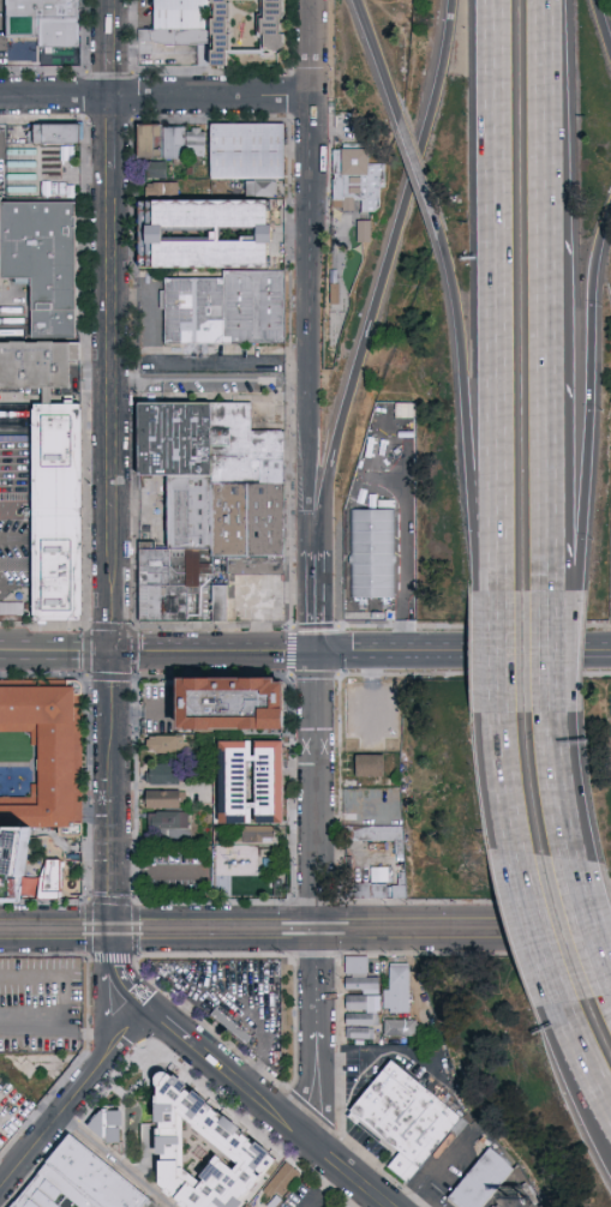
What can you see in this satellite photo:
building: (182, 14)
road: (605, 18)
building: (47, 22)
building: (247, 30)
building: (181, 41)
road: (377, 59)
road: (154, 96)
road: (544, 119)
building: (56, 134)
building: (170, 142)
building: (246, 150)
road: (307, 166)
road: (417, 173)
building: (363, 179)
building: (214, 227)
building: (363, 233)
road: (371, 253)
building: (43, 260)
road: (486, 295)
building: (227, 310)
road: (112, 326)
building: (35, 366)
road: (579, 397)
road: (463, 408)
road: (541, 415)
road: (311, 438)
building: (209, 505)
building: (56, 512)
road: (384, 514)
road: (313, 600)
building: (11, 612)
road: (56, 653)
road: (491, 653)
road: (546, 653)
traffic signals: (114, 655)
road: (215, 655)
traffic signals: (316, 655)
road: (399, 655)
road: (559, 657)
road: (545, 659)
building: (232, 703)
building: (162, 744)
building: (375, 765)
building: (37, 771)
building: (163, 774)
road: (504, 779)
building: (251, 782)
road: (562, 787)
road: (114, 792)
road: (316, 792)
building: (164, 799)
building: (168, 822)
building: (373, 834)
building: (258, 835)
building: (373, 875)
building: (50, 879)
road: (592, 911)
railway: (305, 925)
road: (538, 926)
road: (58, 930)
road: (216, 930)
road: (463, 930)
railway: (305, 936)
road: (116, 953)
building: (359, 975)
building: (397, 989)
road: (120, 1001)
building: (361, 1016)
building: (401, 1028)
road: (64, 1032)
road: (317, 1035)
road: (385, 1050)
road: (588, 1062)
road: (253, 1093)
road: (64, 1105)
building: (405, 1121)
building: (118, 1122)
building: (218, 1148)
road: (115, 1159)
building: (85, 1179)
road: (321, 1183)
building: (483, 1183)

